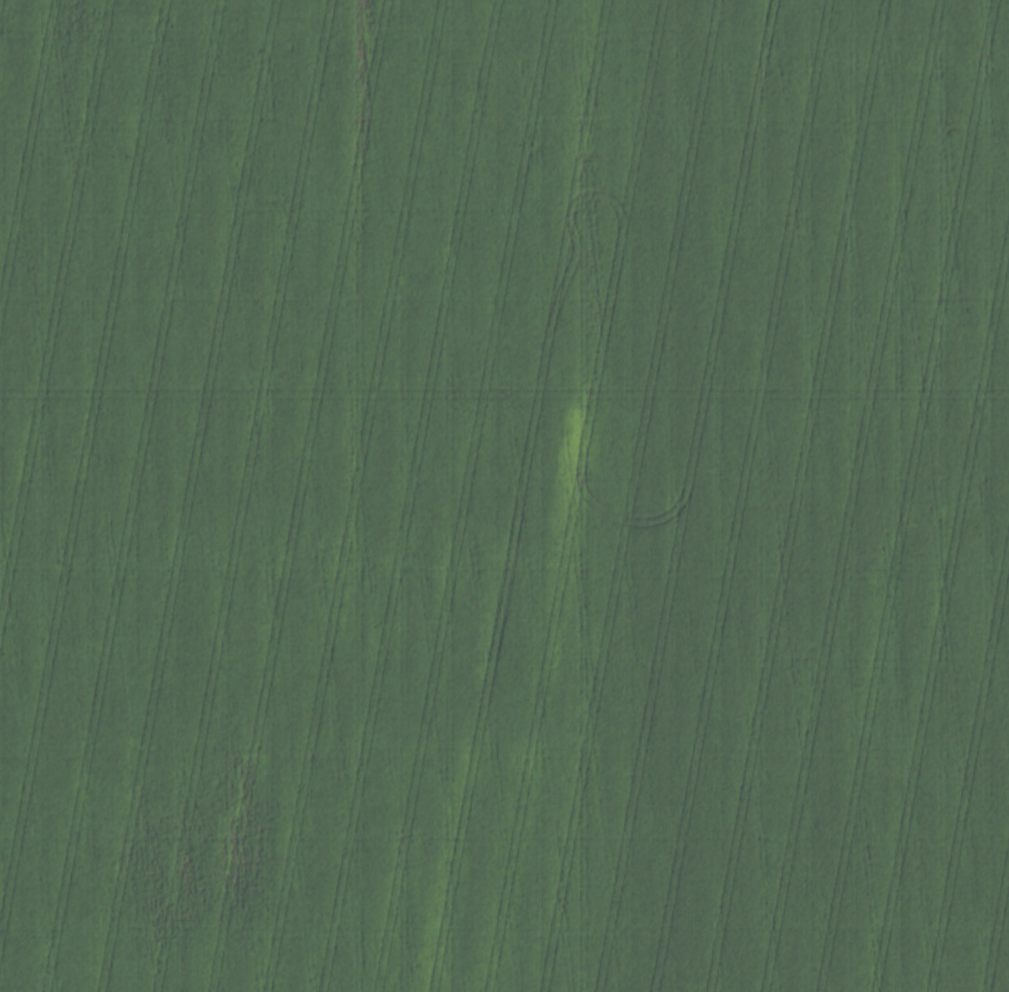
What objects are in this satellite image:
crop: (504, 496)

